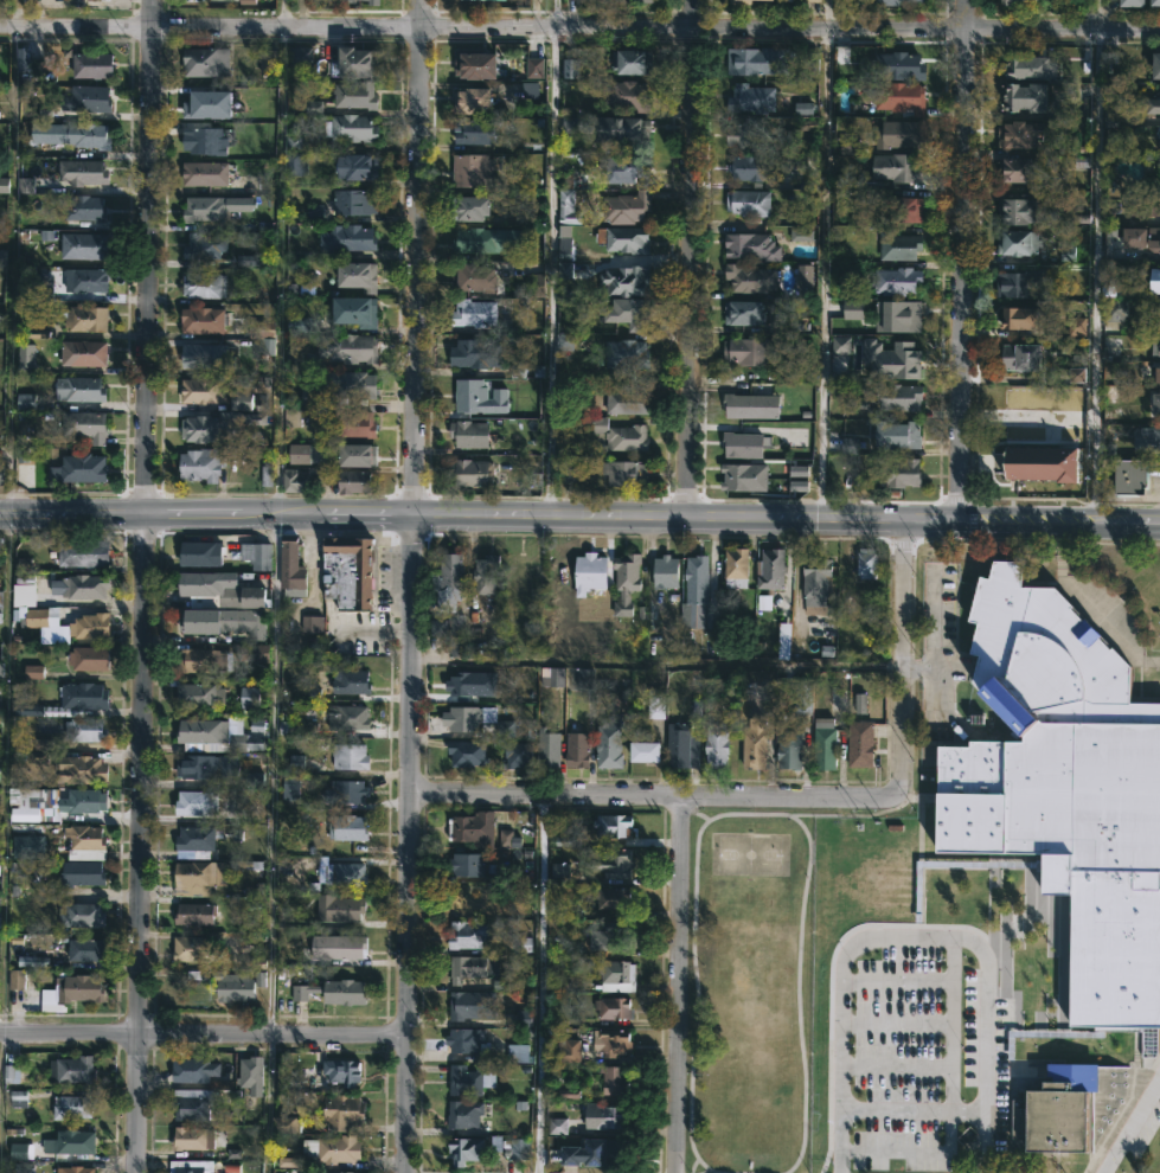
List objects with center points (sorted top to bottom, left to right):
building: (629, 0)
building: (812, 0)
building: (346, 1)
building: (738, 1)
building: (890, 1)
building: (372, 2)
building: (1008, 2)
building: (1132, 2)
building: (1155, 2)
road: (553, 13)
road: (826, 14)
road: (1097, 14)
road: (579, 26)
building: (757, 60)
building: (204, 62)
building: (299, 62)
building: (630, 62)
building: (353, 63)
building: (473, 64)
building: (90, 65)
building: (902, 65)
building: (1156, 65)
building: (26, 68)
building: (571, 68)
building: (1030, 68)
building: (354, 95)
building: (627, 96)
building: (899, 97)
building: (1024, 97)
building: (85, 98)
building: (750, 98)
building: (473, 101)
building: (205, 104)
building: (1153, 105)
building: (1110, 117)
building: (570, 124)
building: (350, 128)
building: (473, 132)
building: (620, 132)
building: (70, 134)
building: (746, 134)
building: (899, 134)
building: (1020, 134)
building: (203, 140)
building: (300, 141)
building: (295, 164)
building: (355, 166)
building: (751, 167)
building: (896, 167)
building: (623, 169)
building: (1015, 169)
building: (470, 171)
building: (81, 172)
building: (203, 173)
building: (353, 201)
building: (748, 203)
building: (83, 207)
building: (566, 207)
building: (624, 207)
building: (1143, 207)
building: (201, 209)
building: (468, 209)
building: (902, 210)
building: (1017, 210)
building: (802, 224)
building: (346, 238)
building: (622, 238)
building: (474, 241)
building: (1140, 242)
building: (563, 243)
building: (1017, 243)
building: (83, 246)
building: (203, 246)
building: (750, 246)
building: (898, 246)
building: (2, 257)
road: (692, 259)
road: (963, 262)
road: (552, 273)
building: (355, 275)
road: (822, 275)
road: (1092, 276)
building: (472, 278)
building: (749, 278)
building: (805, 280)
building: (897, 280)
building: (85, 281)
building: (624, 281)
building: (1155, 281)
building: (1023, 284)
building: (1107, 284)
building: (201, 286)
building: (852, 309)
building: (479, 310)
building: (1114, 310)
building: (353, 312)
building: (626, 313)
building: (742, 313)
building: (897, 315)
building: (1159, 318)
building: (84, 319)
building: (1020, 319)
building: (201, 320)
building: (840, 345)
building: (1155, 346)
building: (346, 348)
building: (750, 352)
building: (82, 353)
building: (475, 353)
building: (624, 354)
building: (204, 357)
building: (1020, 357)
building: (892, 359)
building: (1077, 374)
building: (1154, 374)
building: (348, 384)
building: (77, 389)
building: (200, 391)
building: (468, 396)
building: (898, 397)
building: (621, 403)
building: (1155, 404)
building: (750, 405)
road: (1026, 417)
building: (83, 425)
building: (351, 425)
building: (206, 430)
building: (468, 434)
building: (615, 434)
building: (897, 435)
building: (1152, 437)
building: (742, 446)
building: (354, 456)
building: (1040, 463)
building: (198, 464)
building: (77, 469)
building: (470, 473)
building: (898, 473)
building: (623, 474)
building: (0, 477)
building: (743, 477)
building: (1130, 477)
building: (291, 481)
building: (351, 482)
road: (579, 518)
building: (81, 552)
building: (198, 553)
road: (8, 556)
building: (255, 556)
building: (865, 563)
building: (518, 568)
building: (735, 568)
building: (289, 569)
building: (770, 571)
building: (347, 572)
building: (665, 572)
building: (589, 573)
building: (483, 575)
building: (449, 582)
building: (694, 582)
building: (624, 583)
road: (145, 585)
road: (276, 585)
road: (409, 585)
building: (815, 585)
building: (78, 586)
building: (219, 589)
building: (735, 595)
building: (1, 618)
building: (201, 622)
building: (86, 627)
building: (783, 641)
road: (898, 655)
building: (86, 659)
building: (201, 661)
road: (653, 661)
building: (348, 684)
building: (461, 685)
building: (81, 697)
building: (198, 697)
building: (251, 698)
building: (801, 699)
building: (655, 704)
building: (860, 704)
building: (346, 718)
building: (476, 722)
building: (300, 726)
building: (83, 731)
building: (200, 732)
building: (244, 743)
building: (714, 744)
building: (859, 744)
building: (607, 745)
building: (754, 745)
building: (823, 745)
building: (680, 746)
building: (546, 748)
building: (787, 750)
building: (576, 751)
building: (643, 752)
building: (466, 755)
building: (517, 756)
building: (1033, 756)
building: (348, 757)
building: (203, 768)
building: (79, 770)
building: (342, 791)
road: (654, 799)
building: (79, 801)
building: (193, 803)
building: (611, 823)
building: (345, 826)
building: (472, 827)
building: (84, 837)
building: (194, 840)
building: (466, 863)
building: (613, 863)
building: (81, 872)
building: (340, 872)
building: (192, 877)
building: (468, 896)
building: (614, 897)
building: (338, 908)
building: (194, 912)
building: (79, 914)
building: (614, 934)
building: (470, 935)
road: (911, 938)
building: (1051, 942)
building: (340, 946)
building: (188, 948)
building: (84, 949)
building: (466, 967)
building: (615, 974)
building: (225, 983)
road: (540, 983)
road: (679, 987)
building: (72, 989)
building: (332, 991)
building: (467, 1004)
building: (611, 1006)
park: (786, 1017)
road: (203, 1037)
building: (466, 1039)
building: (611, 1041)
building: (566, 1050)
building: (71, 1069)
building: (188, 1069)
building: (340, 1071)
building: (250, 1073)
building: (613, 1078)
building: (467, 1079)
building: (71, 1105)
building: (190, 1107)
building: (1056, 1107)
building: (342, 1110)
road: (911, 1110)
building: (462, 1114)
building: (603, 1116)
building: (283, 1123)
road: (1129, 1123)
building: (191, 1137)
building: (68, 1141)
building: (334, 1148)
building: (463, 1149)
building: (601, 1150)
road: (912, 1152)
building: (192, 1166)
building: (73, 1168)
building: (339, 1172)

